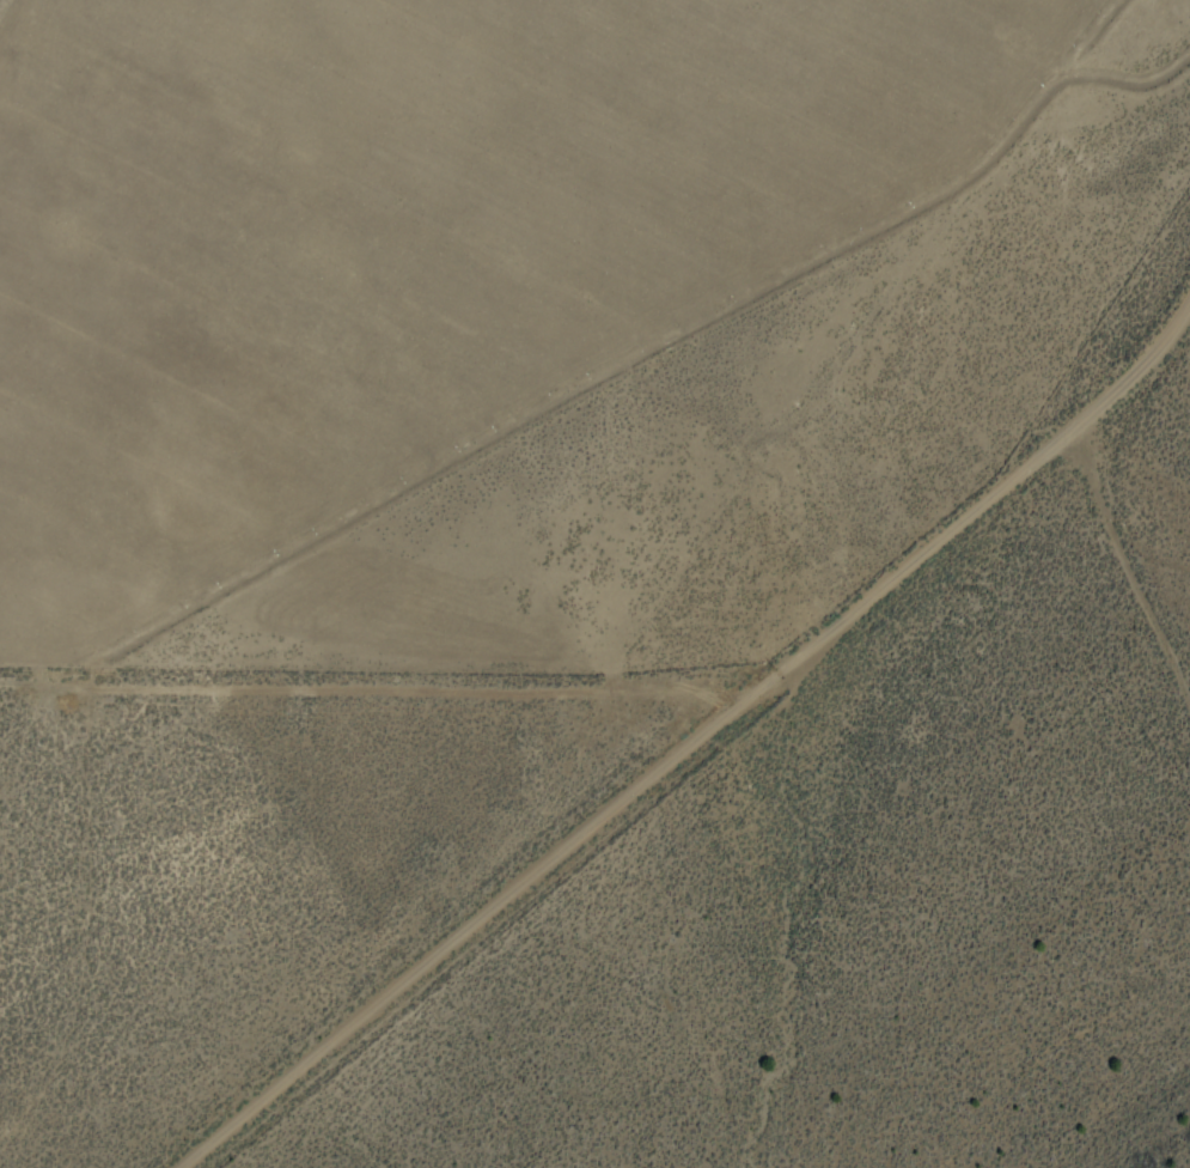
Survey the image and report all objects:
road: (692, 744)

